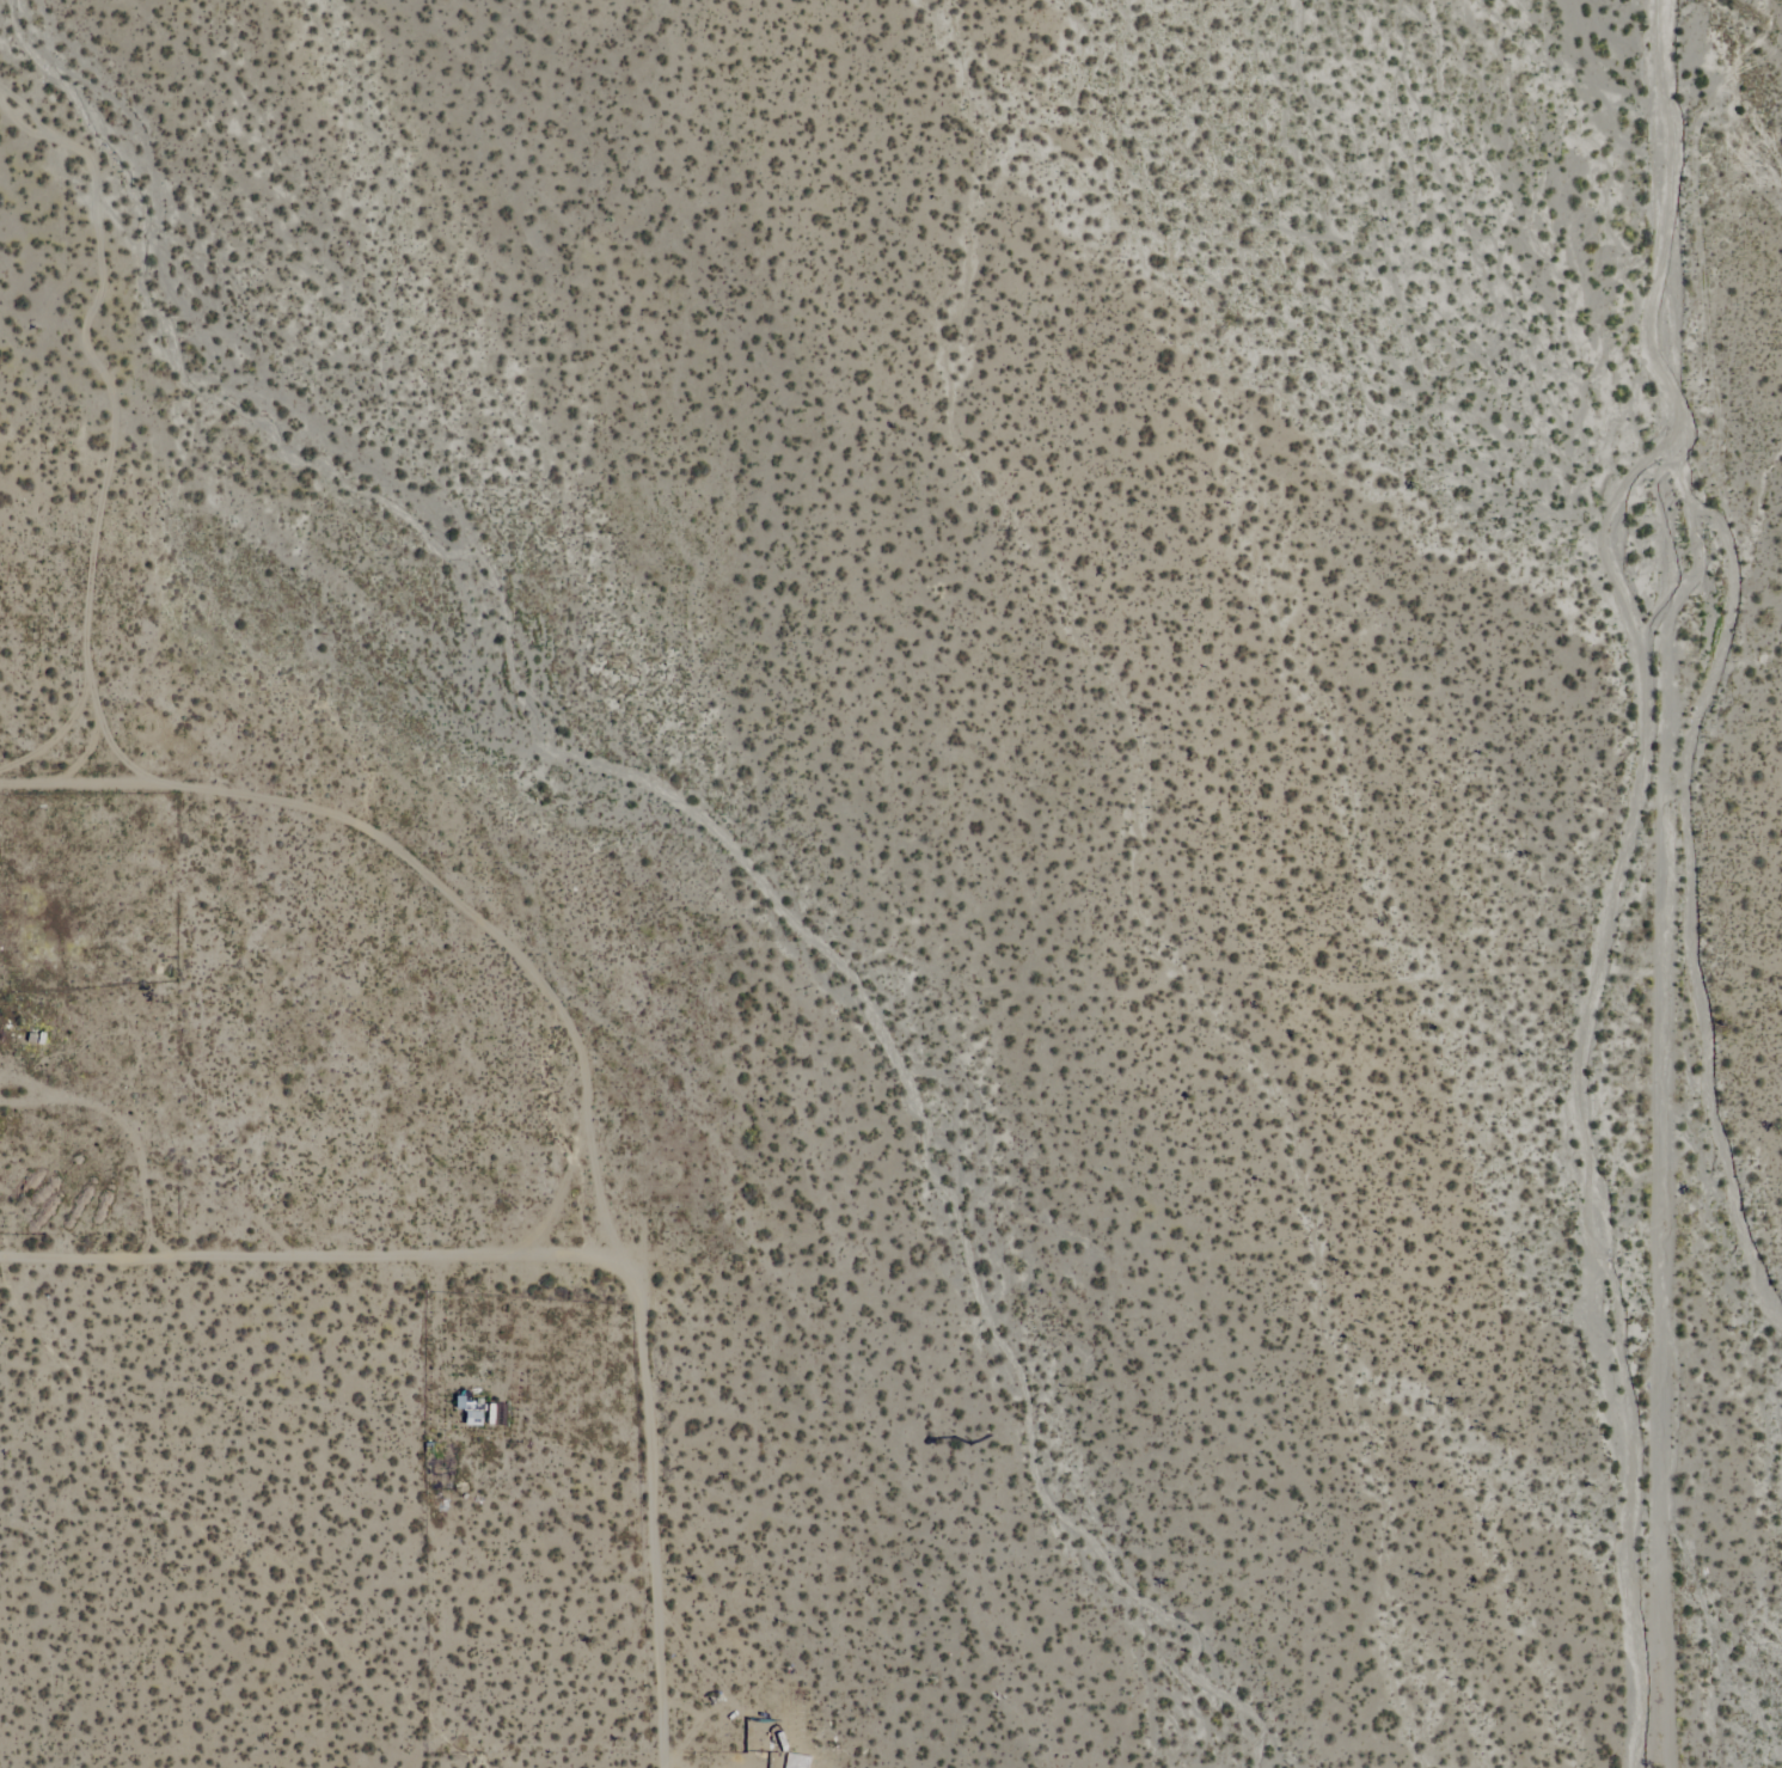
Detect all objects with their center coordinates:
road: (1695, 883)
road: (117, 1126)
road: (570, 1247)

